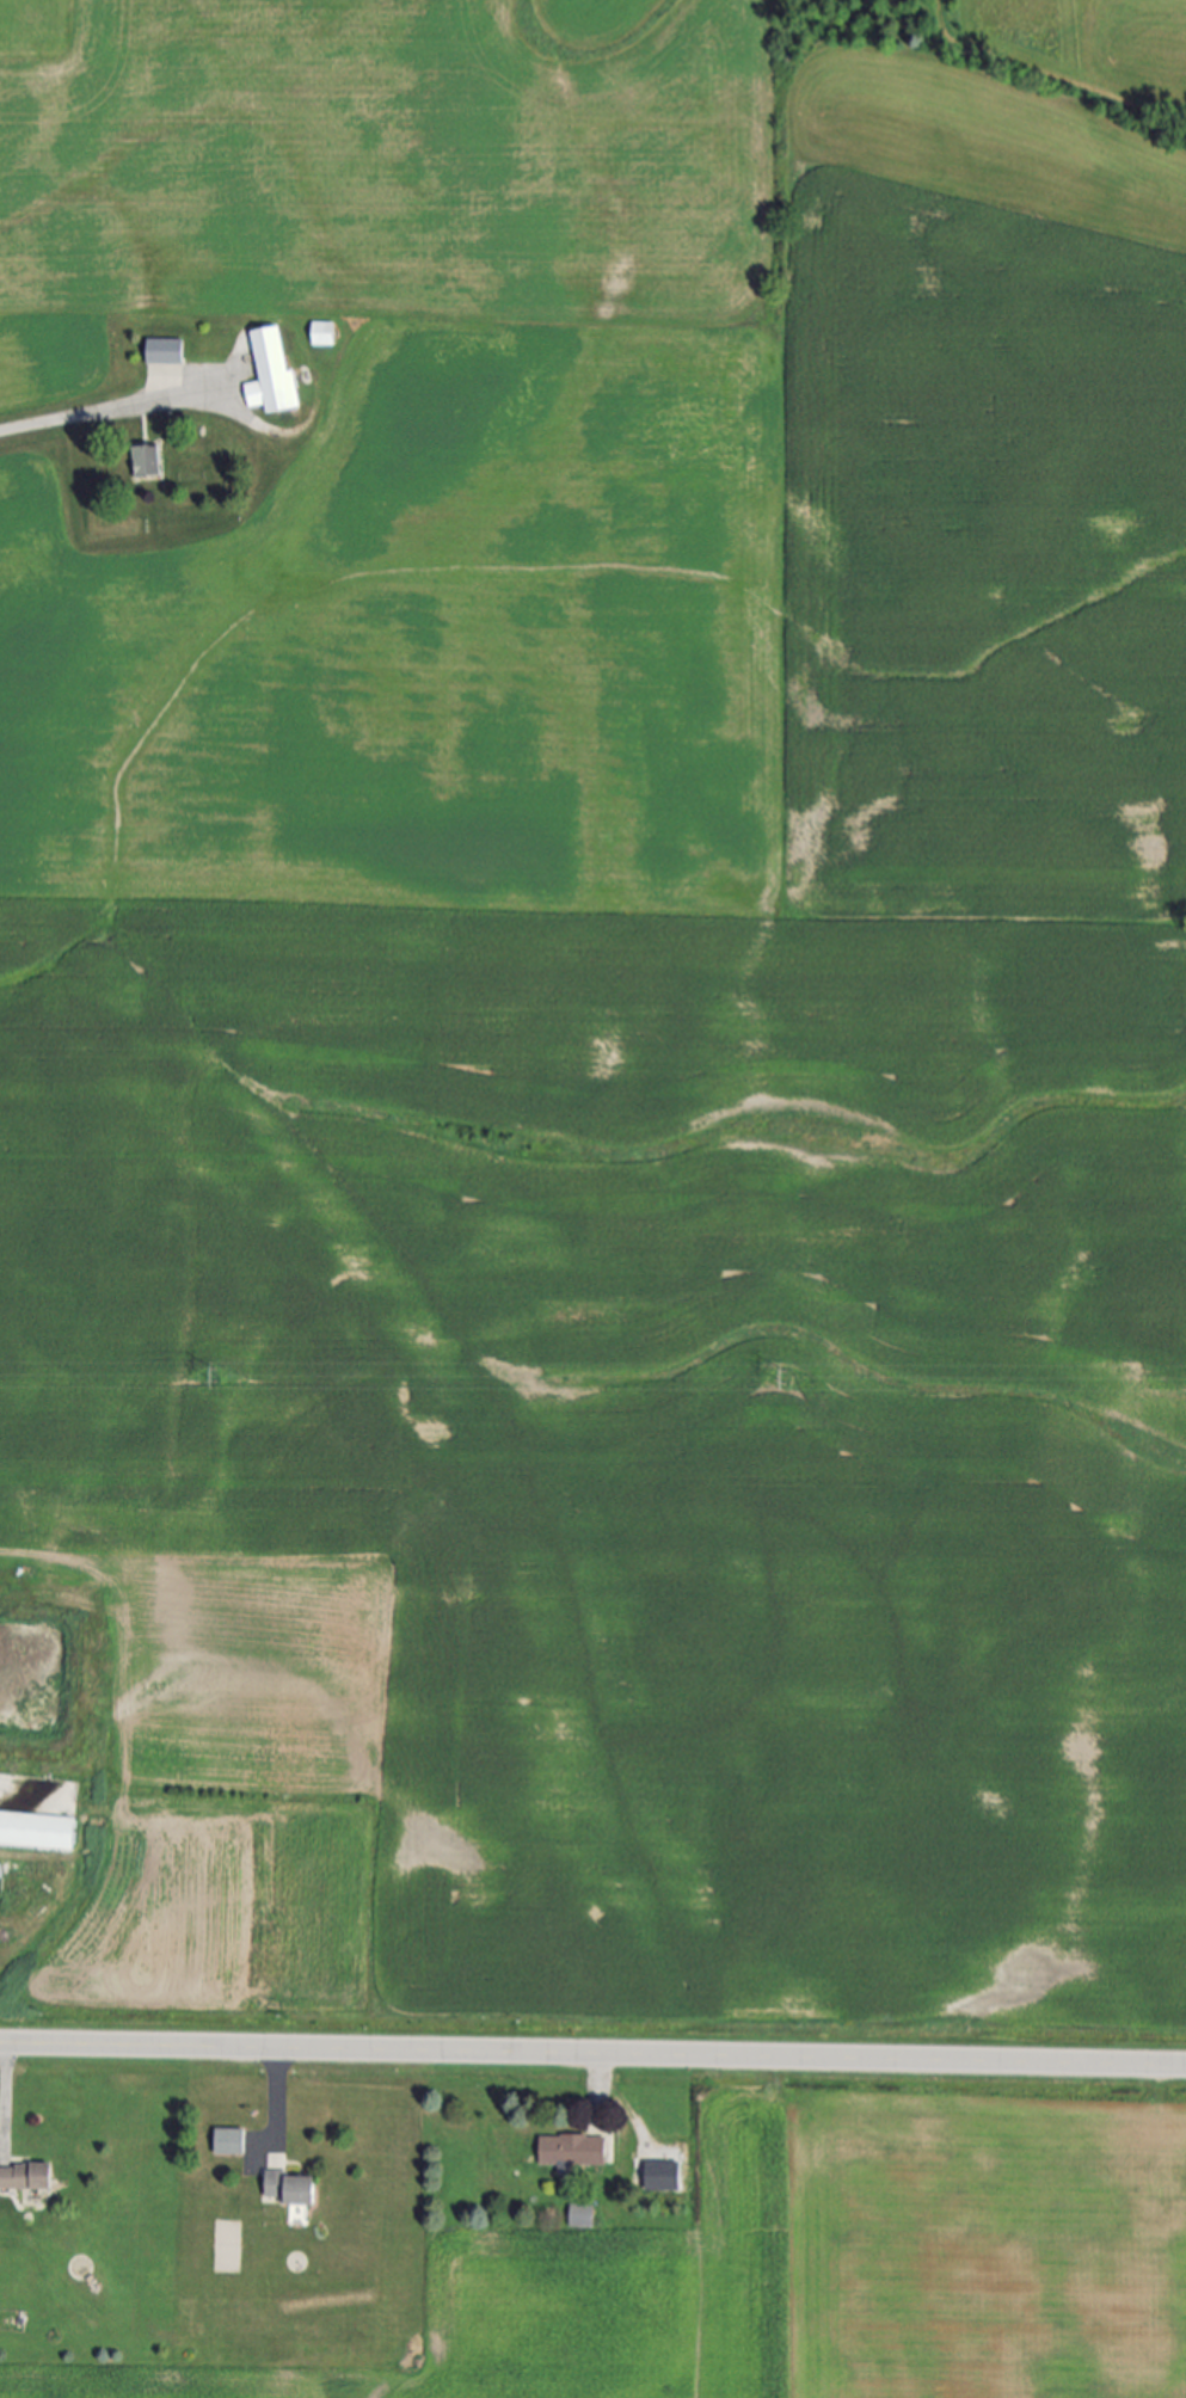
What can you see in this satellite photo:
building: (321, 334)
building: (165, 351)
building: (271, 373)
road: (105, 411)
building: (148, 462)
power tower: (217, 1379)
power tower: (786, 1379)
building: (36, 1832)
road: (592, 2055)
road: (598, 2086)
road: (6, 2097)
road: (275, 2099)
building: (231, 2144)
building: (573, 2152)
building: (665, 2176)
building: (26, 2178)
building: (294, 2193)
building: (583, 2216)

